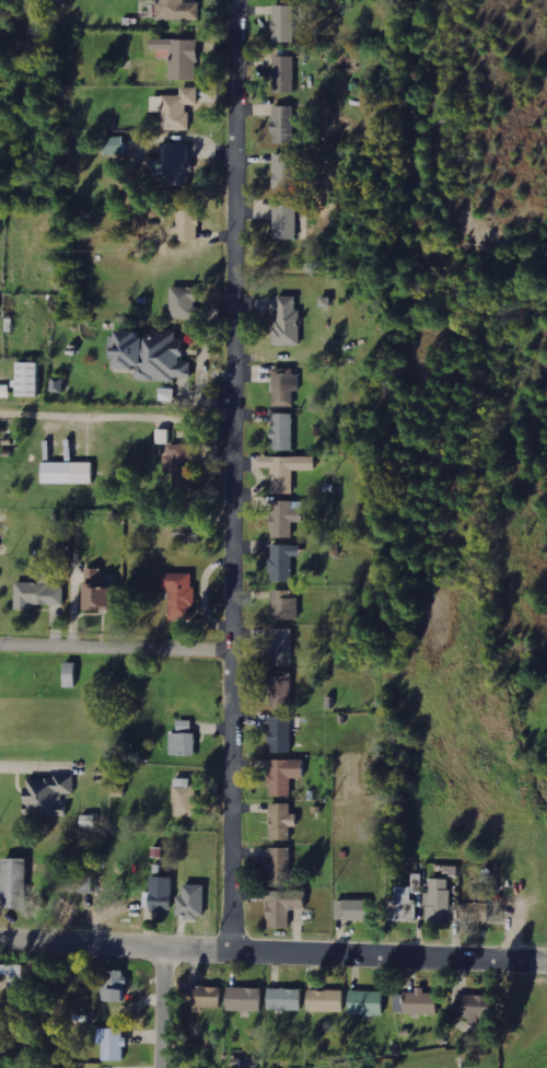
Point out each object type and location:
building: (179, 10)
building: (284, 23)
building: (182, 57)
building: (286, 73)
building: (176, 108)
building: (284, 124)
building: (116, 146)
building: (174, 164)
building: (287, 171)
building: (287, 221)
building: (187, 223)
building: (186, 303)
building: (289, 321)
building: (153, 355)
building: (30, 379)
building: (286, 386)
building: (5, 391)
building: (283, 431)
building: (179, 465)
building: (287, 471)
building: (69, 472)
road: (232, 475)
building: (286, 518)
building: (189, 534)
building: (284, 561)
building: (103, 592)
building: (38, 594)
building: (182, 594)
building: (286, 604)
building: (282, 647)
road: (115, 648)
building: (72, 674)
building: (282, 692)
building: (282, 734)
building: (185, 740)
building: (286, 775)
building: (49, 796)
building: (185, 797)
building: (282, 821)
building: (280, 866)
building: (16, 883)
building: (80, 884)
building: (162, 894)
building: (439, 899)
building: (193, 902)
building: (405, 905)
building: (286, 907)
building: (478, 907)
building: (353, 909)
road: (272, 952)
building: (115, 986)
building: (207, 998)
building: (246, 999)
building: (287, 999)
building: (327, 1000)
building: (368, 1002)
building: (400, 1002)
building: (422, 1002)
building: (476, 1007)
road: (162, 1008)
building: (114, 1044)

